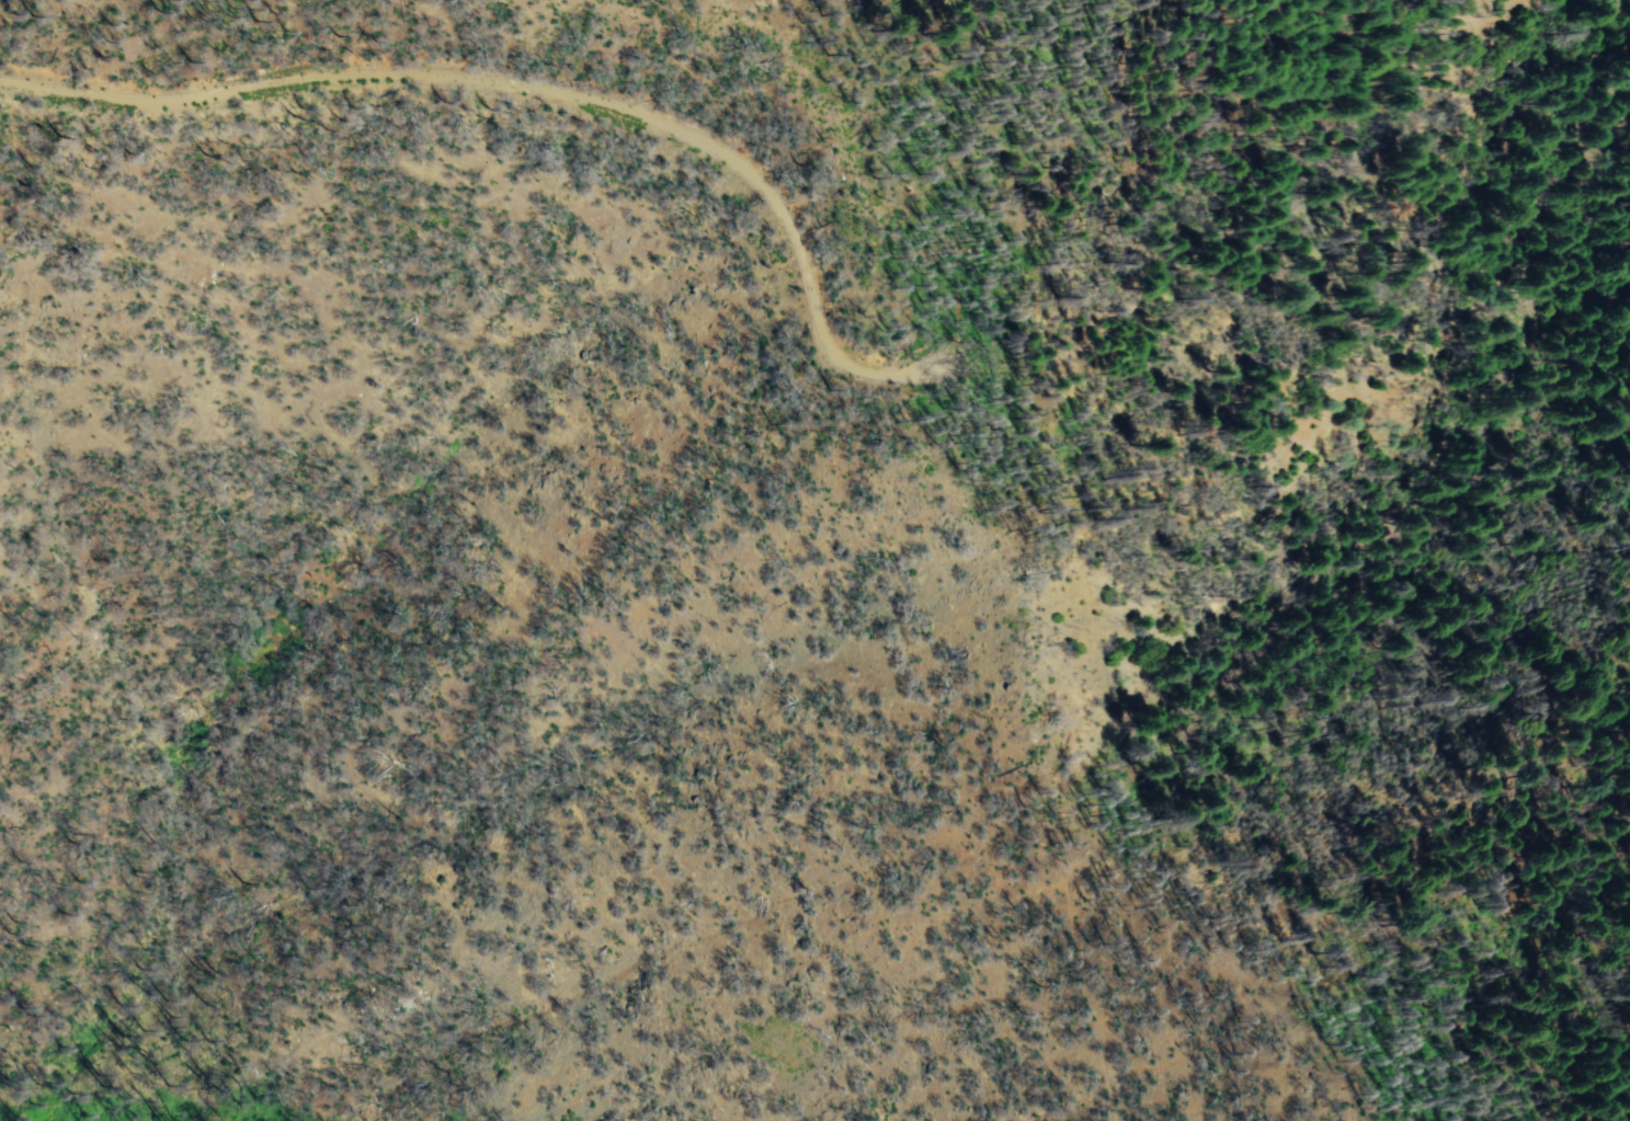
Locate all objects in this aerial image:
road: (526, 125)

